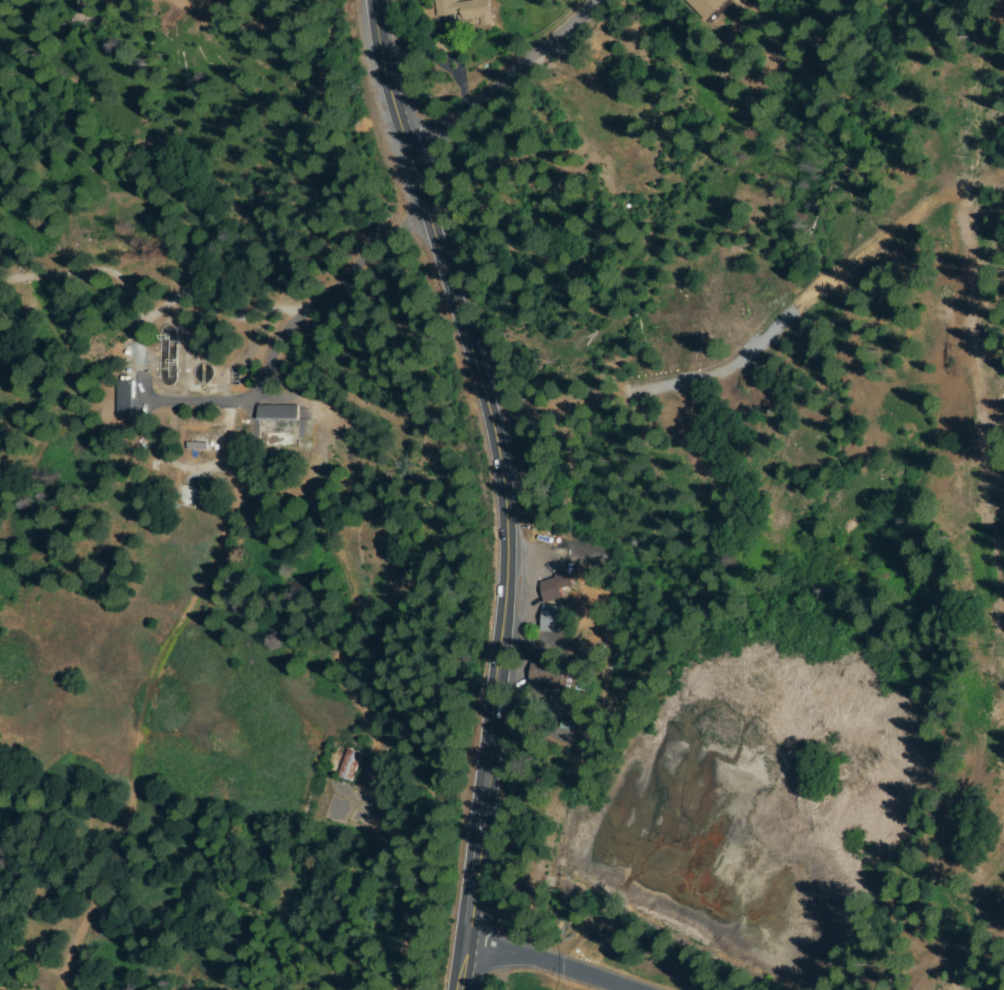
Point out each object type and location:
building: (706, 7)
building: (466, 11)
road: (255, 18)
road: (502, 84)
building: (125, 400)
road: (201, 401)
building: (277, 413)
road: (242, 451)
road: (504, 487)
building: (554, 586)
building: (552, 620)
building: (553, 678)
building: (350, 765)
building: (630, 779)
road: (369, 868)
road: (100, 869)
road: (992, 915)
road: (957, 922)
road: (550, 964)

